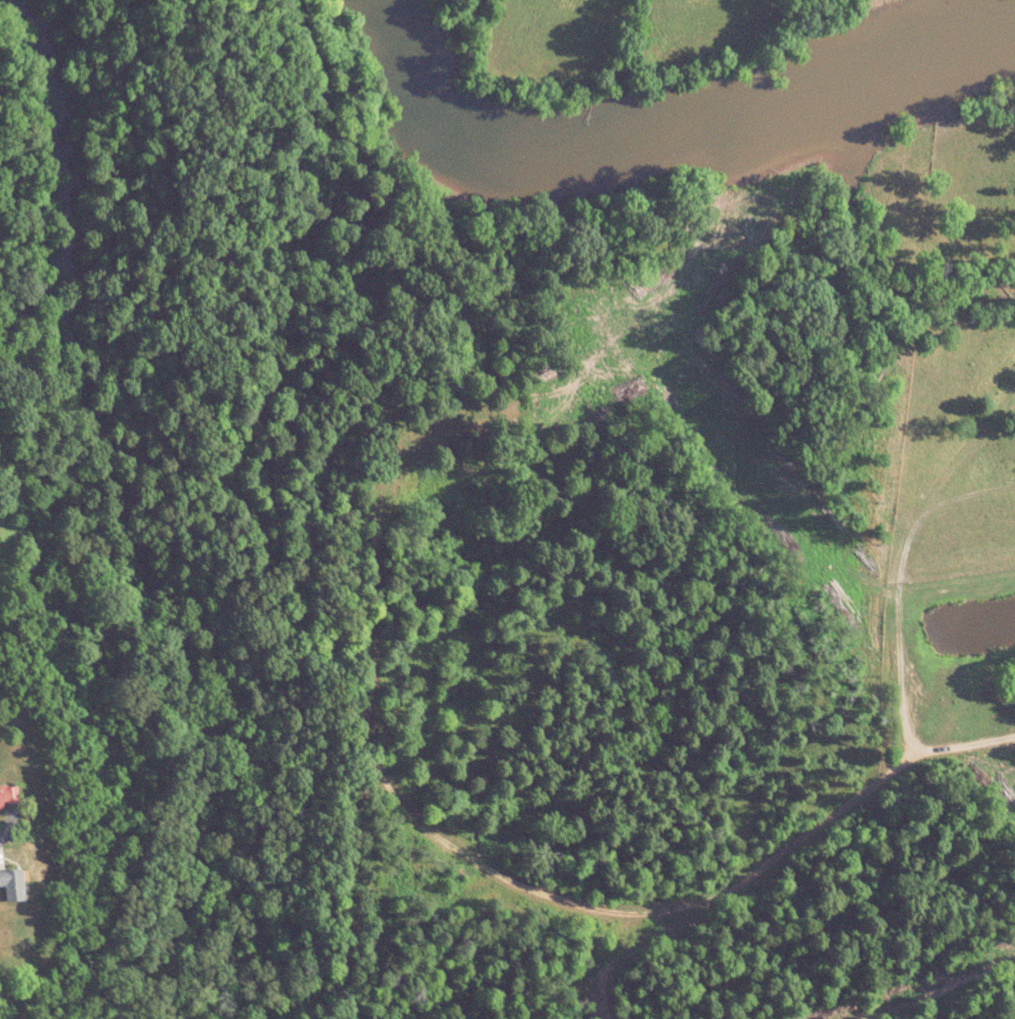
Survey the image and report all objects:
river: (652, 122)
building: (9, 797)
building: (14, 885)

